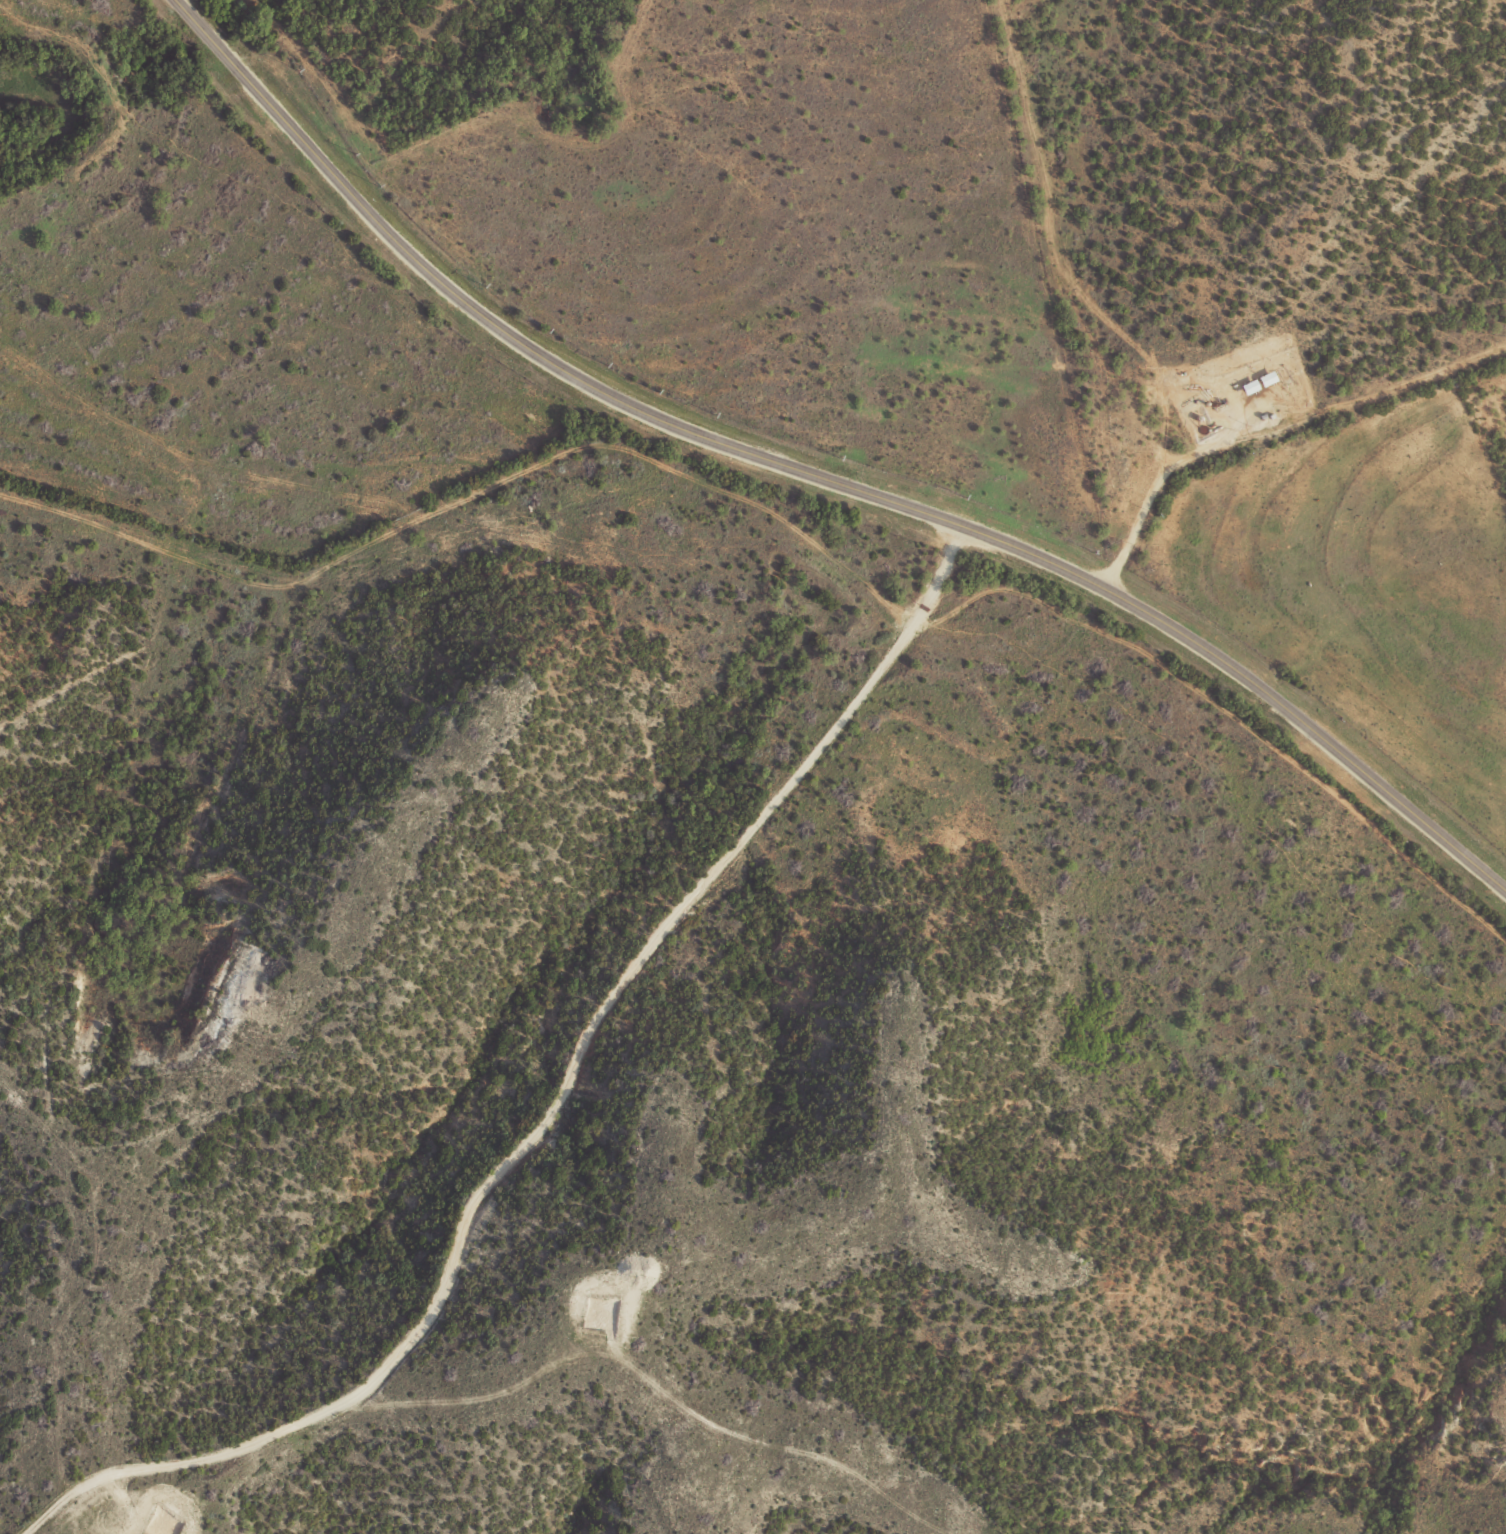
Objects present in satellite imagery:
road: (1100, 284)
road: (816, 477)
road: (1148, 494)
road: (721, 1241)

